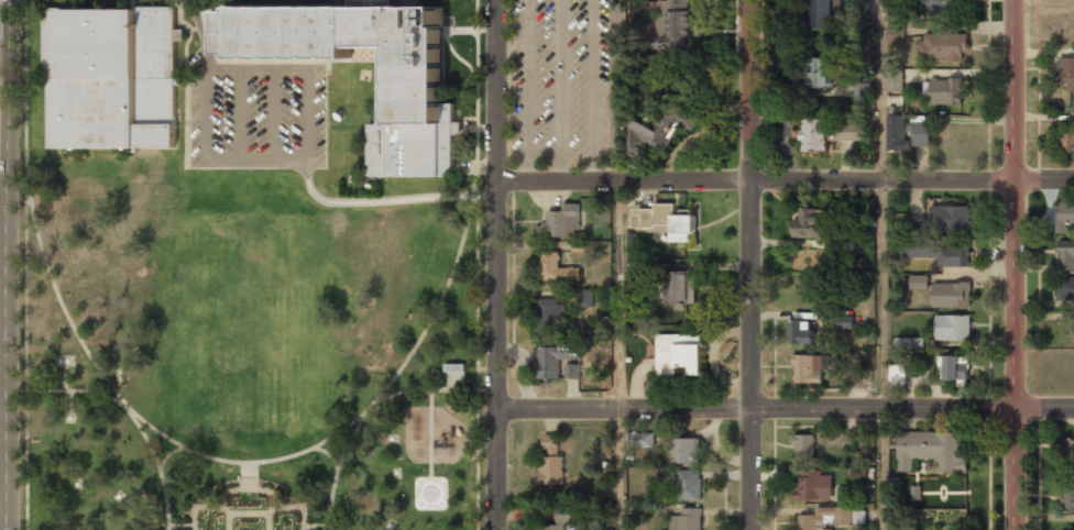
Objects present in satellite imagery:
road: (360, 3)
building: (941, 8)
building: (824, 13)
building: (672, 25)
building: (895, 32)
building: (352, 46)
building: (943, 46)
road: (257, 68)
building: (1067, 71)
building: (817, 73)
building: (111, 77)
building: (894, 80)
parking lot: (559, 81)
road: (528, 89)
road: (560, 89)
road: (592, 89)
building: (945, 91)
building: (863, 95)
road: (207, 115)
road: (240, 115)
road: (274, 115)
road: (308, 115)
parking lot: (259, 118)
building: (659, 129)
building: (848, 131)
building: (920, 131)
building: (896, 133)
building: (814, 134)
building: (1067, 142)
building: (414, 146)
road: (223, 164)
road: (274, 164)
road: (788, 180)
road: (392, 201)
building: (1065, 214)
building: (950, 219)
building: (664, 221)
building: (561, 222)
building: (809, 224)
building: (917, 225)
building: (940, 251)
building: (1066, 256)
road: (502, 264)
road: (750, 264)
road: (884, 264)
road: (30, 265)
road: (480, 265)
road: (1016, 265)
building: (557, 268)
building: (633, 273)
building: (919, 281)
building: (680, 287)
building: (1064, 288)
building: (951, 295)
building: (584, 299)
building: (549, 316)
park: (243, 319)
building: (952, 328)
building: (801, 331)
building: (909, 342)
park: (249, 353)
building: (678, 353)
road: (622, 354)
building: (552, 360)
building: (456, 367)
building: (809, 367)
building: (572, 371)
building: (859, 375)
building: (897, 375)
road: (65, 377)
road: (68, 390)
road: (425, 390)
road: (72, 401)
road: (1045, 405)
road: (758, 406)
road: (431, 433)
building: (638, 440)
building: (855, 443)
building: (804, 449)
building: (686, 451)
building: (930, 451)
building: (1070, 452)
road: (328, 454)
road: (261, 462)
building: (550, 463)
road: (160, 467)
road: (338, 470)
road: (0, 472)
building: (689, 485)
building: (813, 486)
road: (229, 490)
building: (1067, 499)
road: (197, 506)
road: (300, 507)
road: (272, 510)
building: (559, 518)
building: (829, 518)
building: (686, 520)
road: (268, 521)
road: (182, 525)
road: (317, 526)
building: (897, 529)

